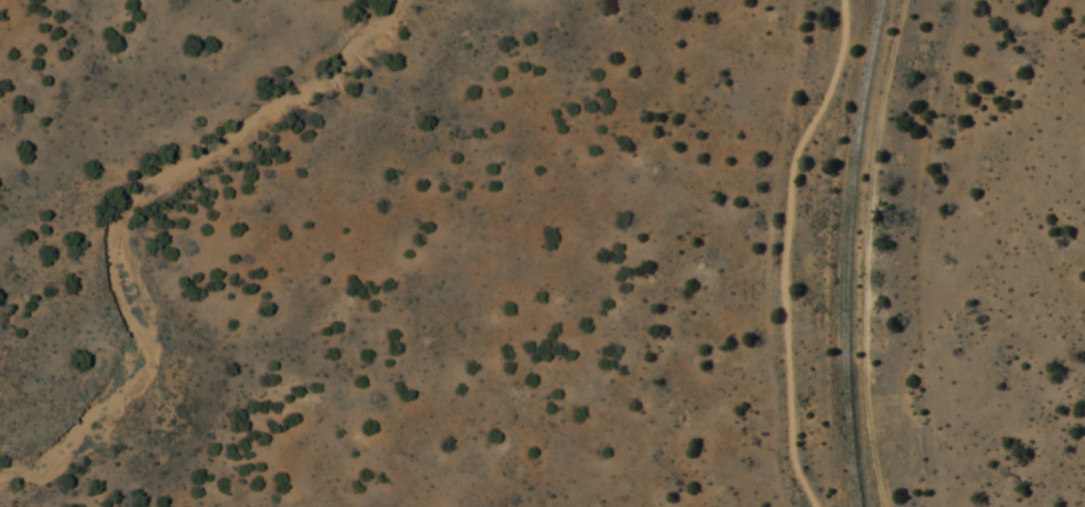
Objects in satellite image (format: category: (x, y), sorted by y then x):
road: (788, 250)
railway: (845, 252)

